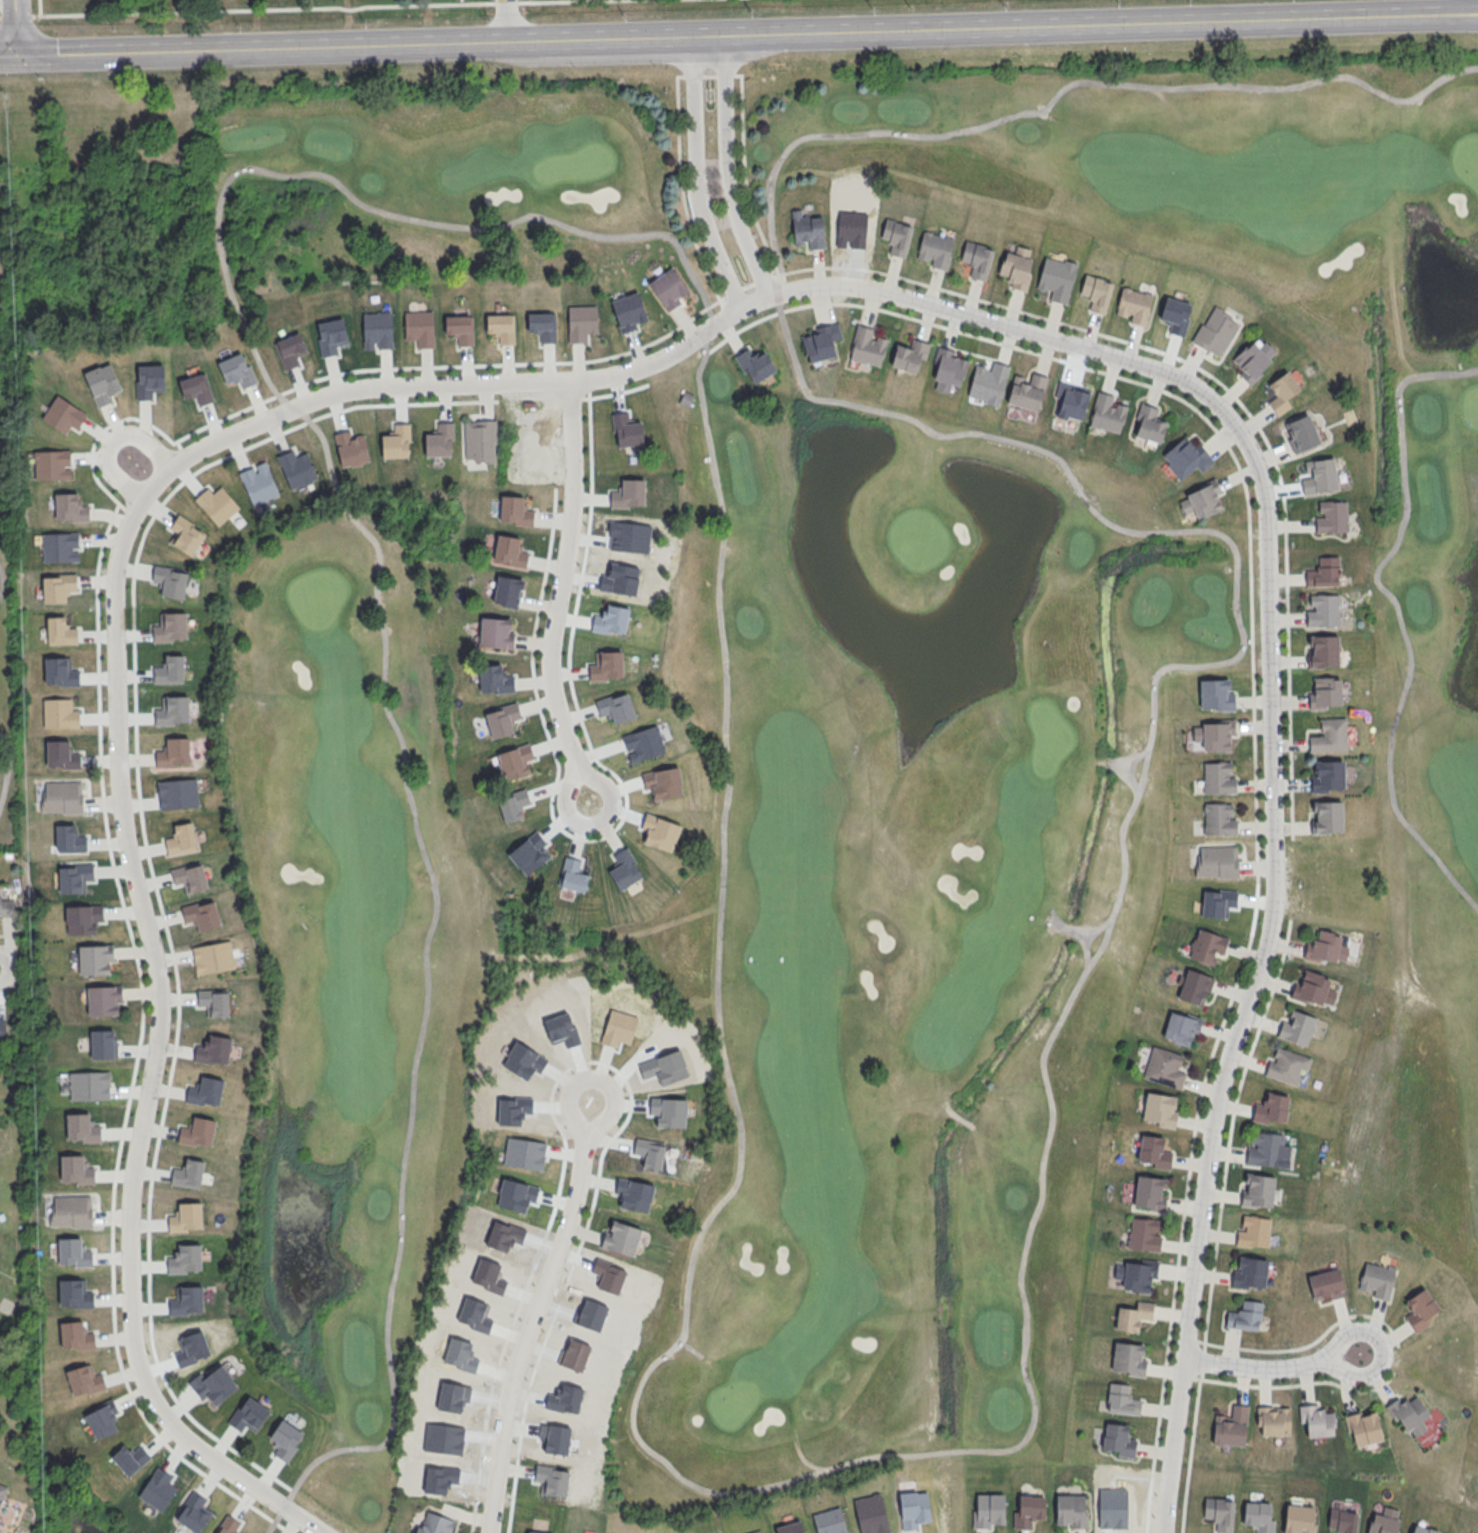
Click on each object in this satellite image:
road: (548, 1)
road: (505, 2)
road: (39, 7)
road: (262, 8)
road: (14, 15)
road: (505, 21)
road: (1100, 25)
road: (14, 27)
road: (507, 41)
road: (146, 51)
traffic signals: (16, 54)
road: (1058, 91)
road: (240, 170)
road: (726, 170)
road: (697, 176)
road: (227, 180)
road: (221, 196)
road: (504, 223)
building: (854, 223)
building: (808, 231)
building: (897, 238)
building: (934, 250)
building: (977, 259)
building: (1017, 269)
building: (1055, 280)
building: (669, 288)
building: (1096, 292)
building: (1134, 307)
road: (1005, 308)
road: (239, 313)
building: (629, 313)
building: (581, 322)
building: (543, 328)
building: (420, 329)
building: (501, 329)
building: (377, 331)
building: (460, 331)
building: (1216, 332)
road: (1029, 333)
building: (332, 338)
building: (821, 343)
building: (867, 348)
building: (290, 352)
building: (909, 357)
building: (755, 362)
building: (1253, 362)
road: (503, 365)
building: (948, 370)
building: (237, 373)
building: (149, 382)
road: (479, 384)
building: (988, 384)
building: (196, 388)
building: (1026, 393)
building: (1282, 395)
road: (1183, 400)
building: (1071, 402)
building: (1107, 415)
building: (63, 416)
road: (308, 422)
building: (1149, 425)
building: (626, 430)
building: (1301, 435)
road: (138, 438)
road: (266, 439)
building: (480, 440)
building: (438, 444)
building: (394, 445)
building: (1187, 459)
building: (52, 464)
building: (297, 466)
building: (1319, 478)
road: (119, 481)
building: (258, 482)
road: (3, 491)
building: (628, 494)
building: (1203, 500)
building: (217, 505)
building: (70, 508)
building: (1330, 516)
building: (60, 547)
building: (510, 549)
building: (1324, 572)
road: (563, 577)
road: (1285, 579)
road: (1, 582)
building: (57, 587)
building: (507, 592)
building: (1322, 611)
road: (1399, 614)
building: (170, 626)
building: (61, 631)
building: (496, 632)
building: (1323, 651)
road: (531, 653)
building: (170, 669)
building: (60, 672)
building: (495, 678)
building: (1325, 692)
building: (1216, 694)
building: (619, 708)
building: (172, 710)
building: (60, 714)
building: (501, 719)
park: (841, 731)
building: (1214, 735)
building: (1330, 736)
building: (643, 743)
building: (173, 751)
building: (515, 760)
road: (6, 767)
building: (1327, 775)
building: (1218, 777)
building: (178, 793)
building: (62, 797)
building: (509, 808)
building: (1325, 817)
building: (1218, 819)
road: (595, 825)
building: (182, 838)
building: (1217, 861)
building: (624, 868)
building: (573, 875)
building: (190, 876)
building: (74, 877)
building: (6, 906)
building: (201, 914)
building: (83, 917)
road: (6, 933)
road: (3, 935)
road: (1082, 936)
building: (1207, 947)
building: (1325, 947)
road: (1085, 951)
road: (1244, 954)
building: (213, 957)
building: (94, 958)
road: (1260, 969)
road: (8, 972)
building: (1194, 986)
road: (426, 988)
building: (1313, 989)
building: (104, 999)
building: (213, 1002)
building: (1179, 1027)
building: (1296, 1027)
building: (2, 1029)
road: (140, 1040)
building: (101, 1043)
building: (213, 1050)
road: (155, 1057)
building: (1287, 1066)
building: (1164, 1067)
road: (593, 1077)
building: (89, 1086)
building: (205, 1091)
building: (1271, 1108)
building: (1159, 1109)
building: (81, 1128)
building: (197, 1131)
building: (1267, 1150)
building: (1154, 1151)
building: (75, 1169)
building: (188, 1173)
building: (1257, 1190)
building: (1149, 1192)
road: (1183, 1198)
building: (72, 1211)
building: (185, 1217)
road: (1218, 1224)
building: (1254, 1231)
building: (1143, 1234)
building: (620, 1237)
building: (73, 1252)
building: (185, 1258)
building: (1249, 1273)
building: (1138, 1274)
building: (1377, 1279)
building: (1325, 1285)
building: (74, 1293)
building: (186, 1300)
building: (1420, 1309)
building: (1133, 1315)
building: (1244, 1316)
road: (526, 1332)
building: (75, 1335)
road: (1383, 1349)
building: (1128, 1358)
road: (1252, 1367)
building: (84, 1380)
building: (1121, 1399)
building: (1408, 1414)
building: (103, 1419)
building: (1273, 1421)
building: (1316, 1421)
building: (1230, 1427)
building: (1363, 1427)
road: (1029, 1428)
building: (1119, 1439)
road: (1155, 1450)
park: (1473, 1484)
building: (157, 1489)
building: (2, 1492)
building: (1071, 1510)
building: (1028, 1511)
building: (194, 1512)
building: (987, 1512)
building: (1219, 1512)
building: (1259, 1516)
building: (1298, 1519)
building: (1342, 1520)
building: (1383, 1522)
building: (434, 1523)
building: (227, 1525)
building: (1422, 1529)

